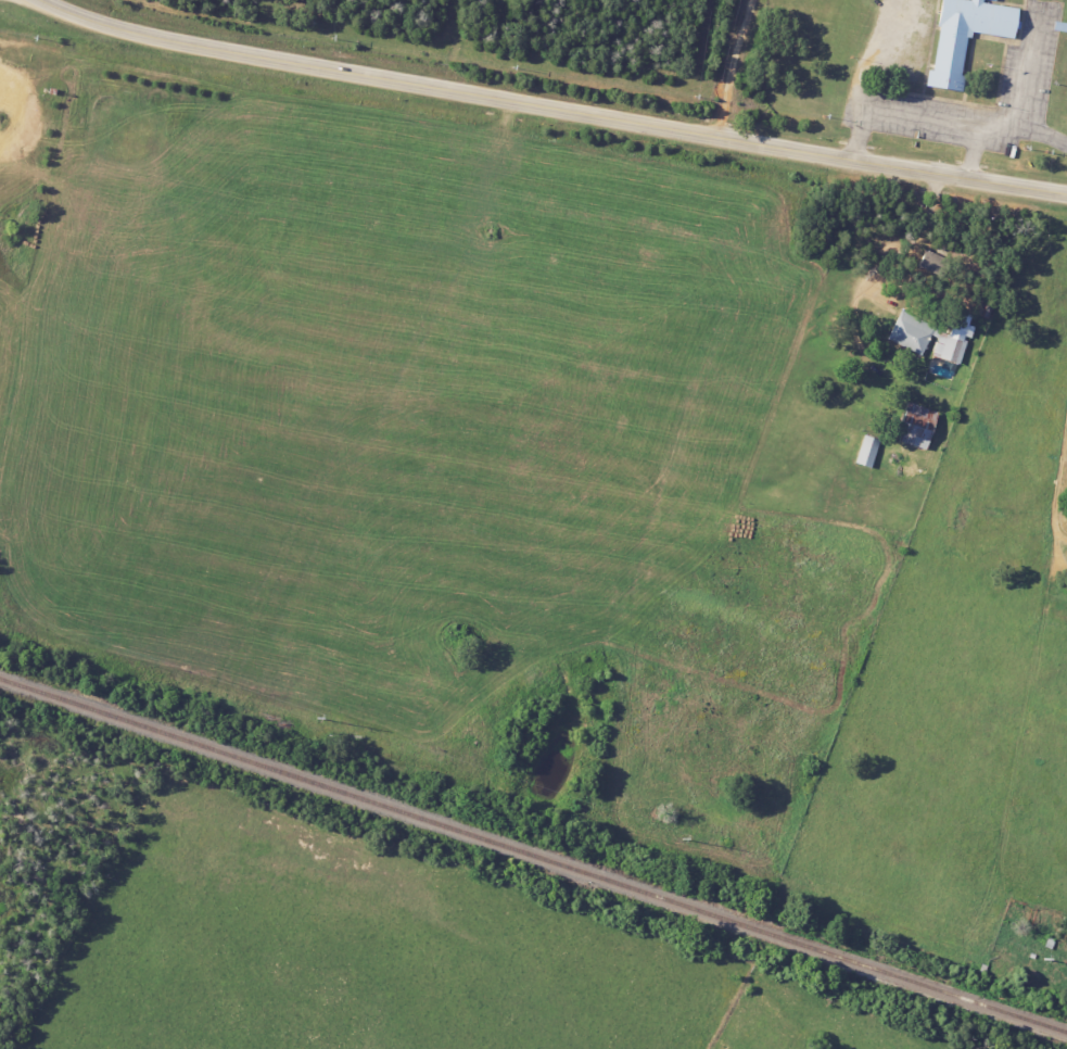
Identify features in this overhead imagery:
building: (990, 0)
building: (1058, 27)
building: (962, 36)
road: (735, 68)
road: (1021, 96)
road: (549, 108)
road: (916, 119)
road: (1041, 138)
building: (932, 263)
road: (901, 311)
building: (907, 337)
building: (913, 426)
building: (865, 452)
road: (1056, 480)
railway: (533, 856)

